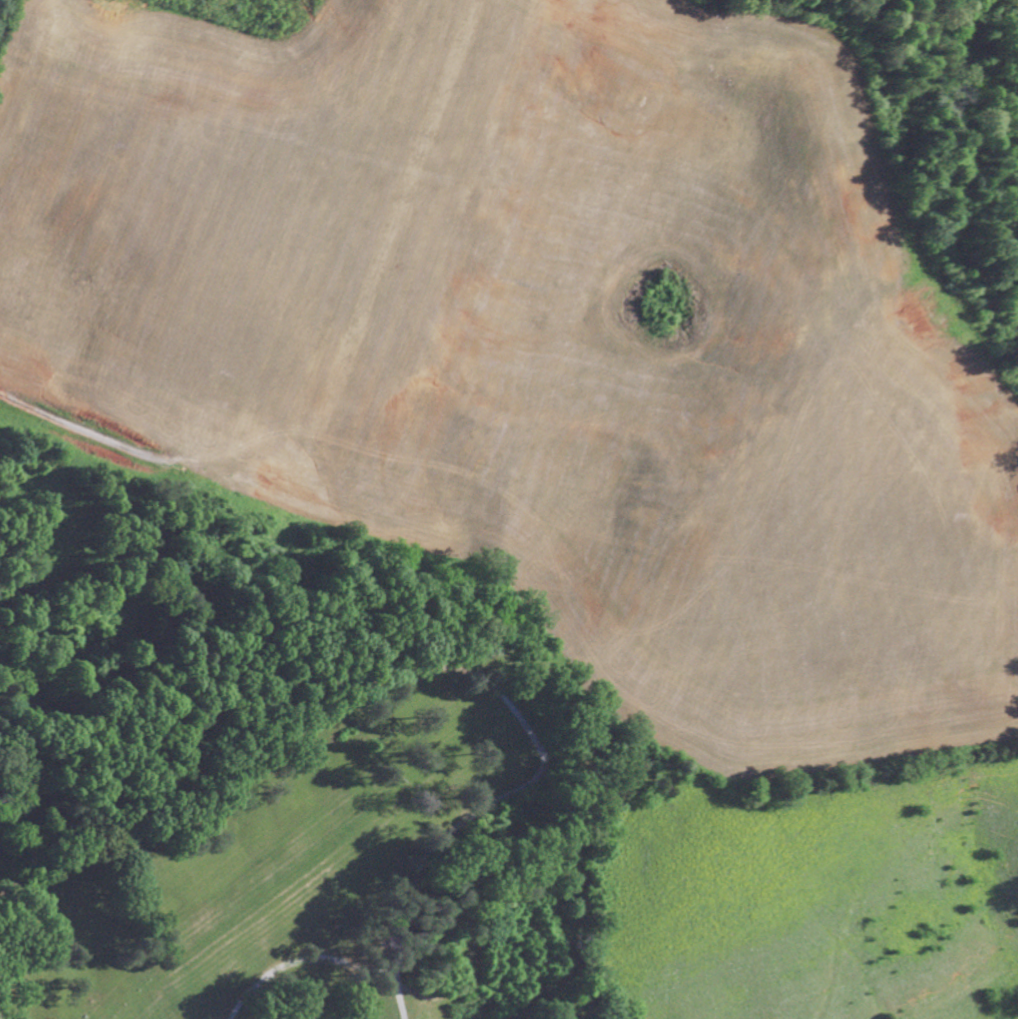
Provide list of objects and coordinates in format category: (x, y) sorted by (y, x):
road: (571, 951)
road: (327, 954)

